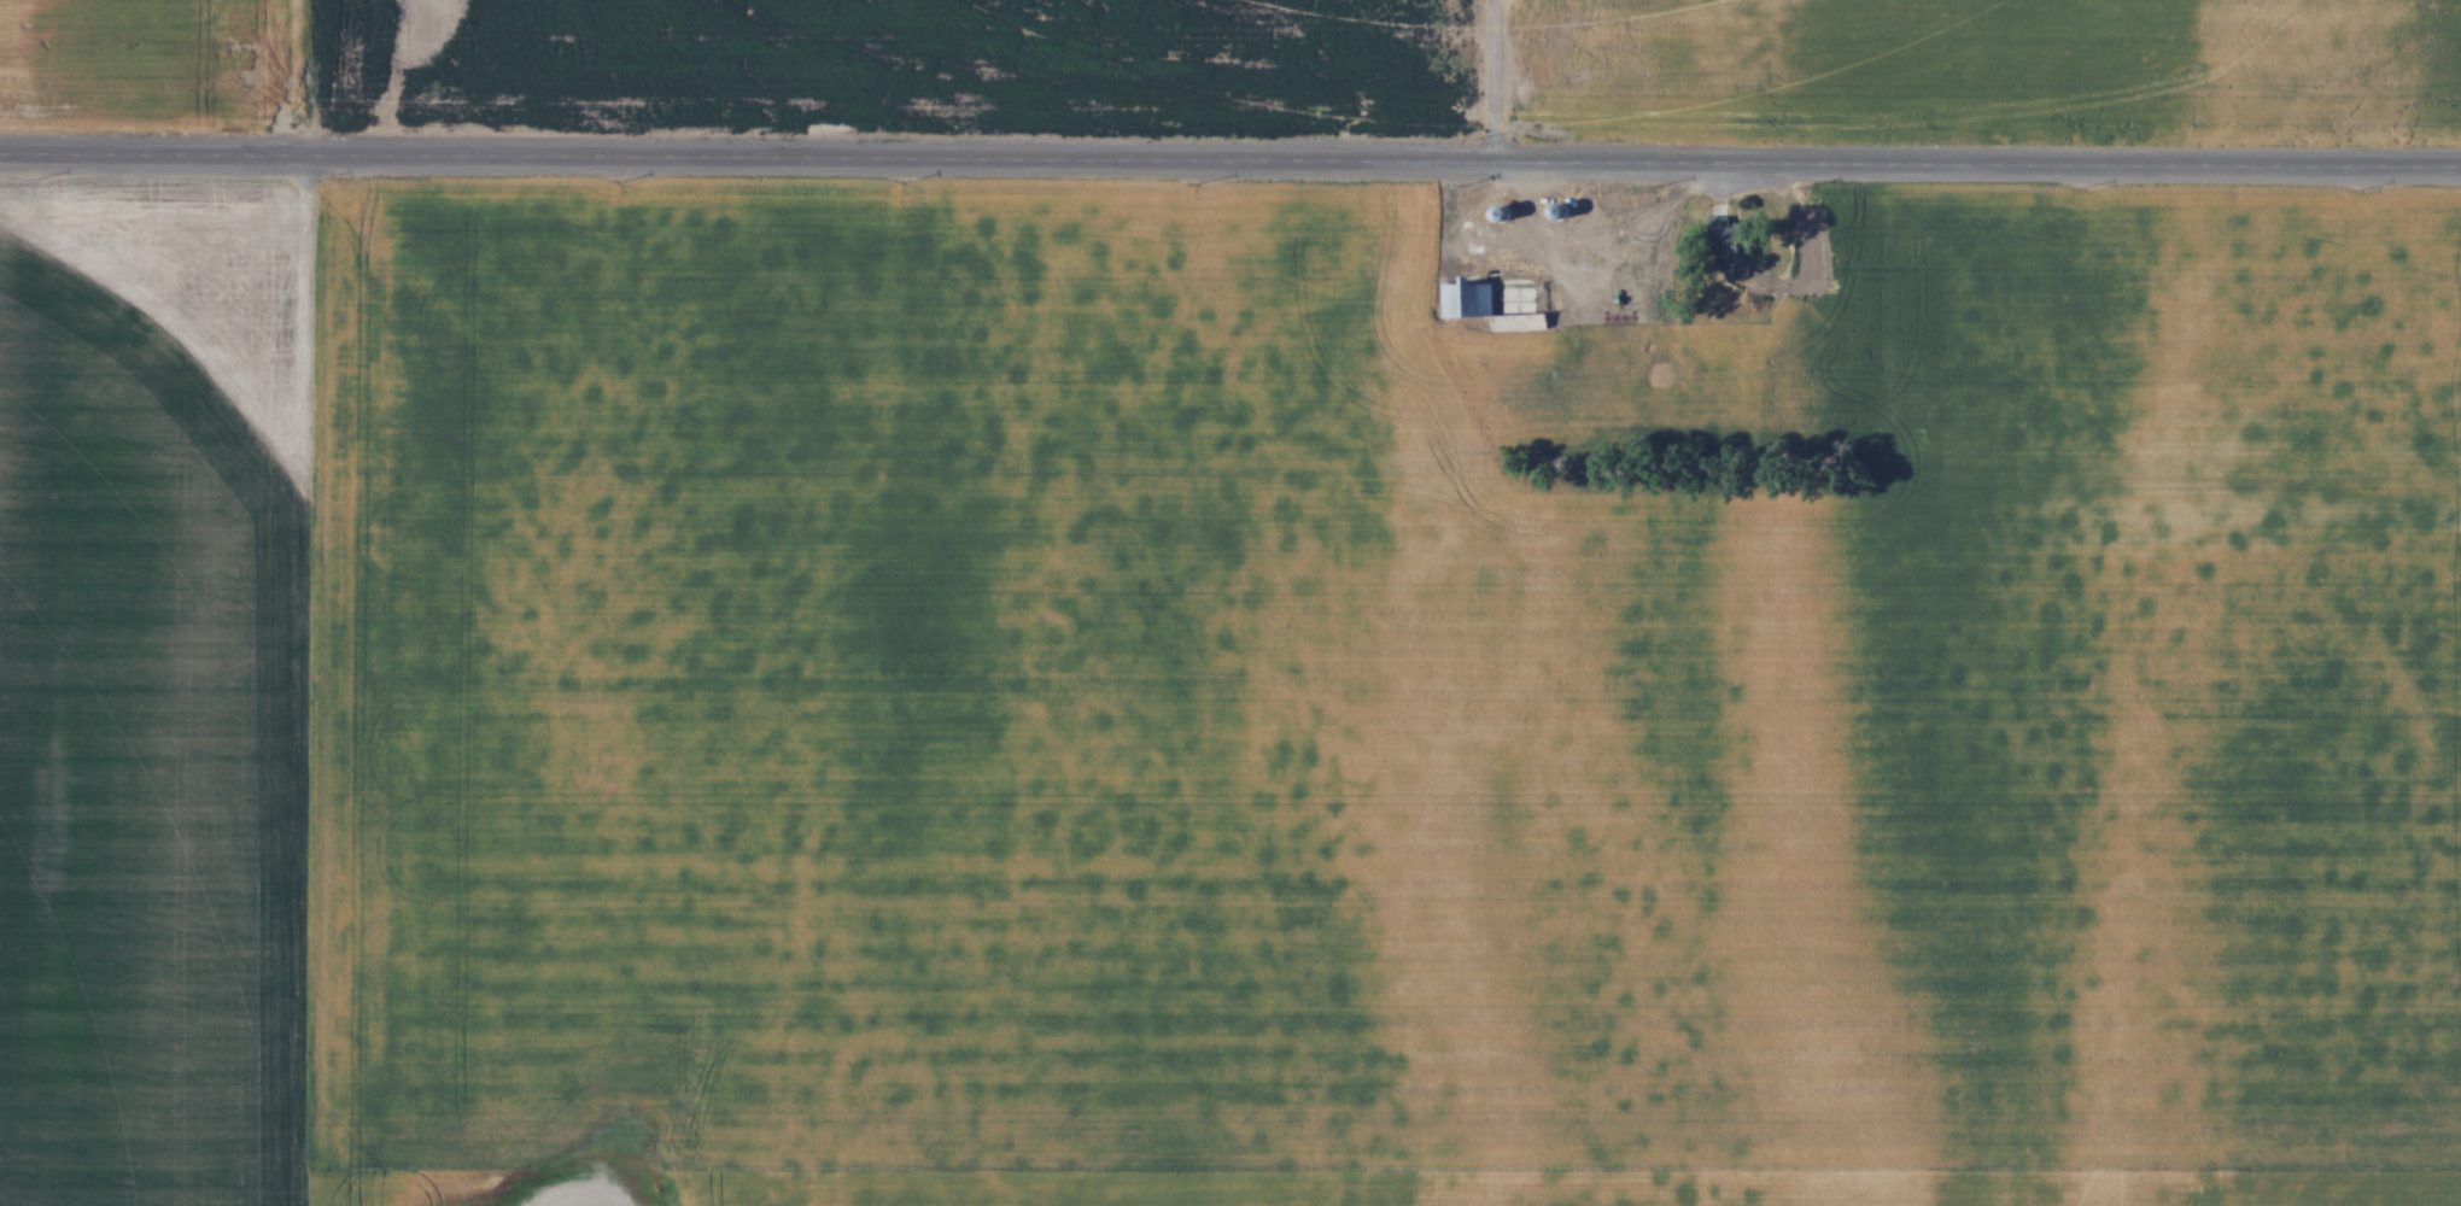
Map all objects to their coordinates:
road: (1229, 160)
building: (1502, 211)
building: (1718, 227)
building: (1740, 247)
building: (1469, 298)
building: (1687, 373)

